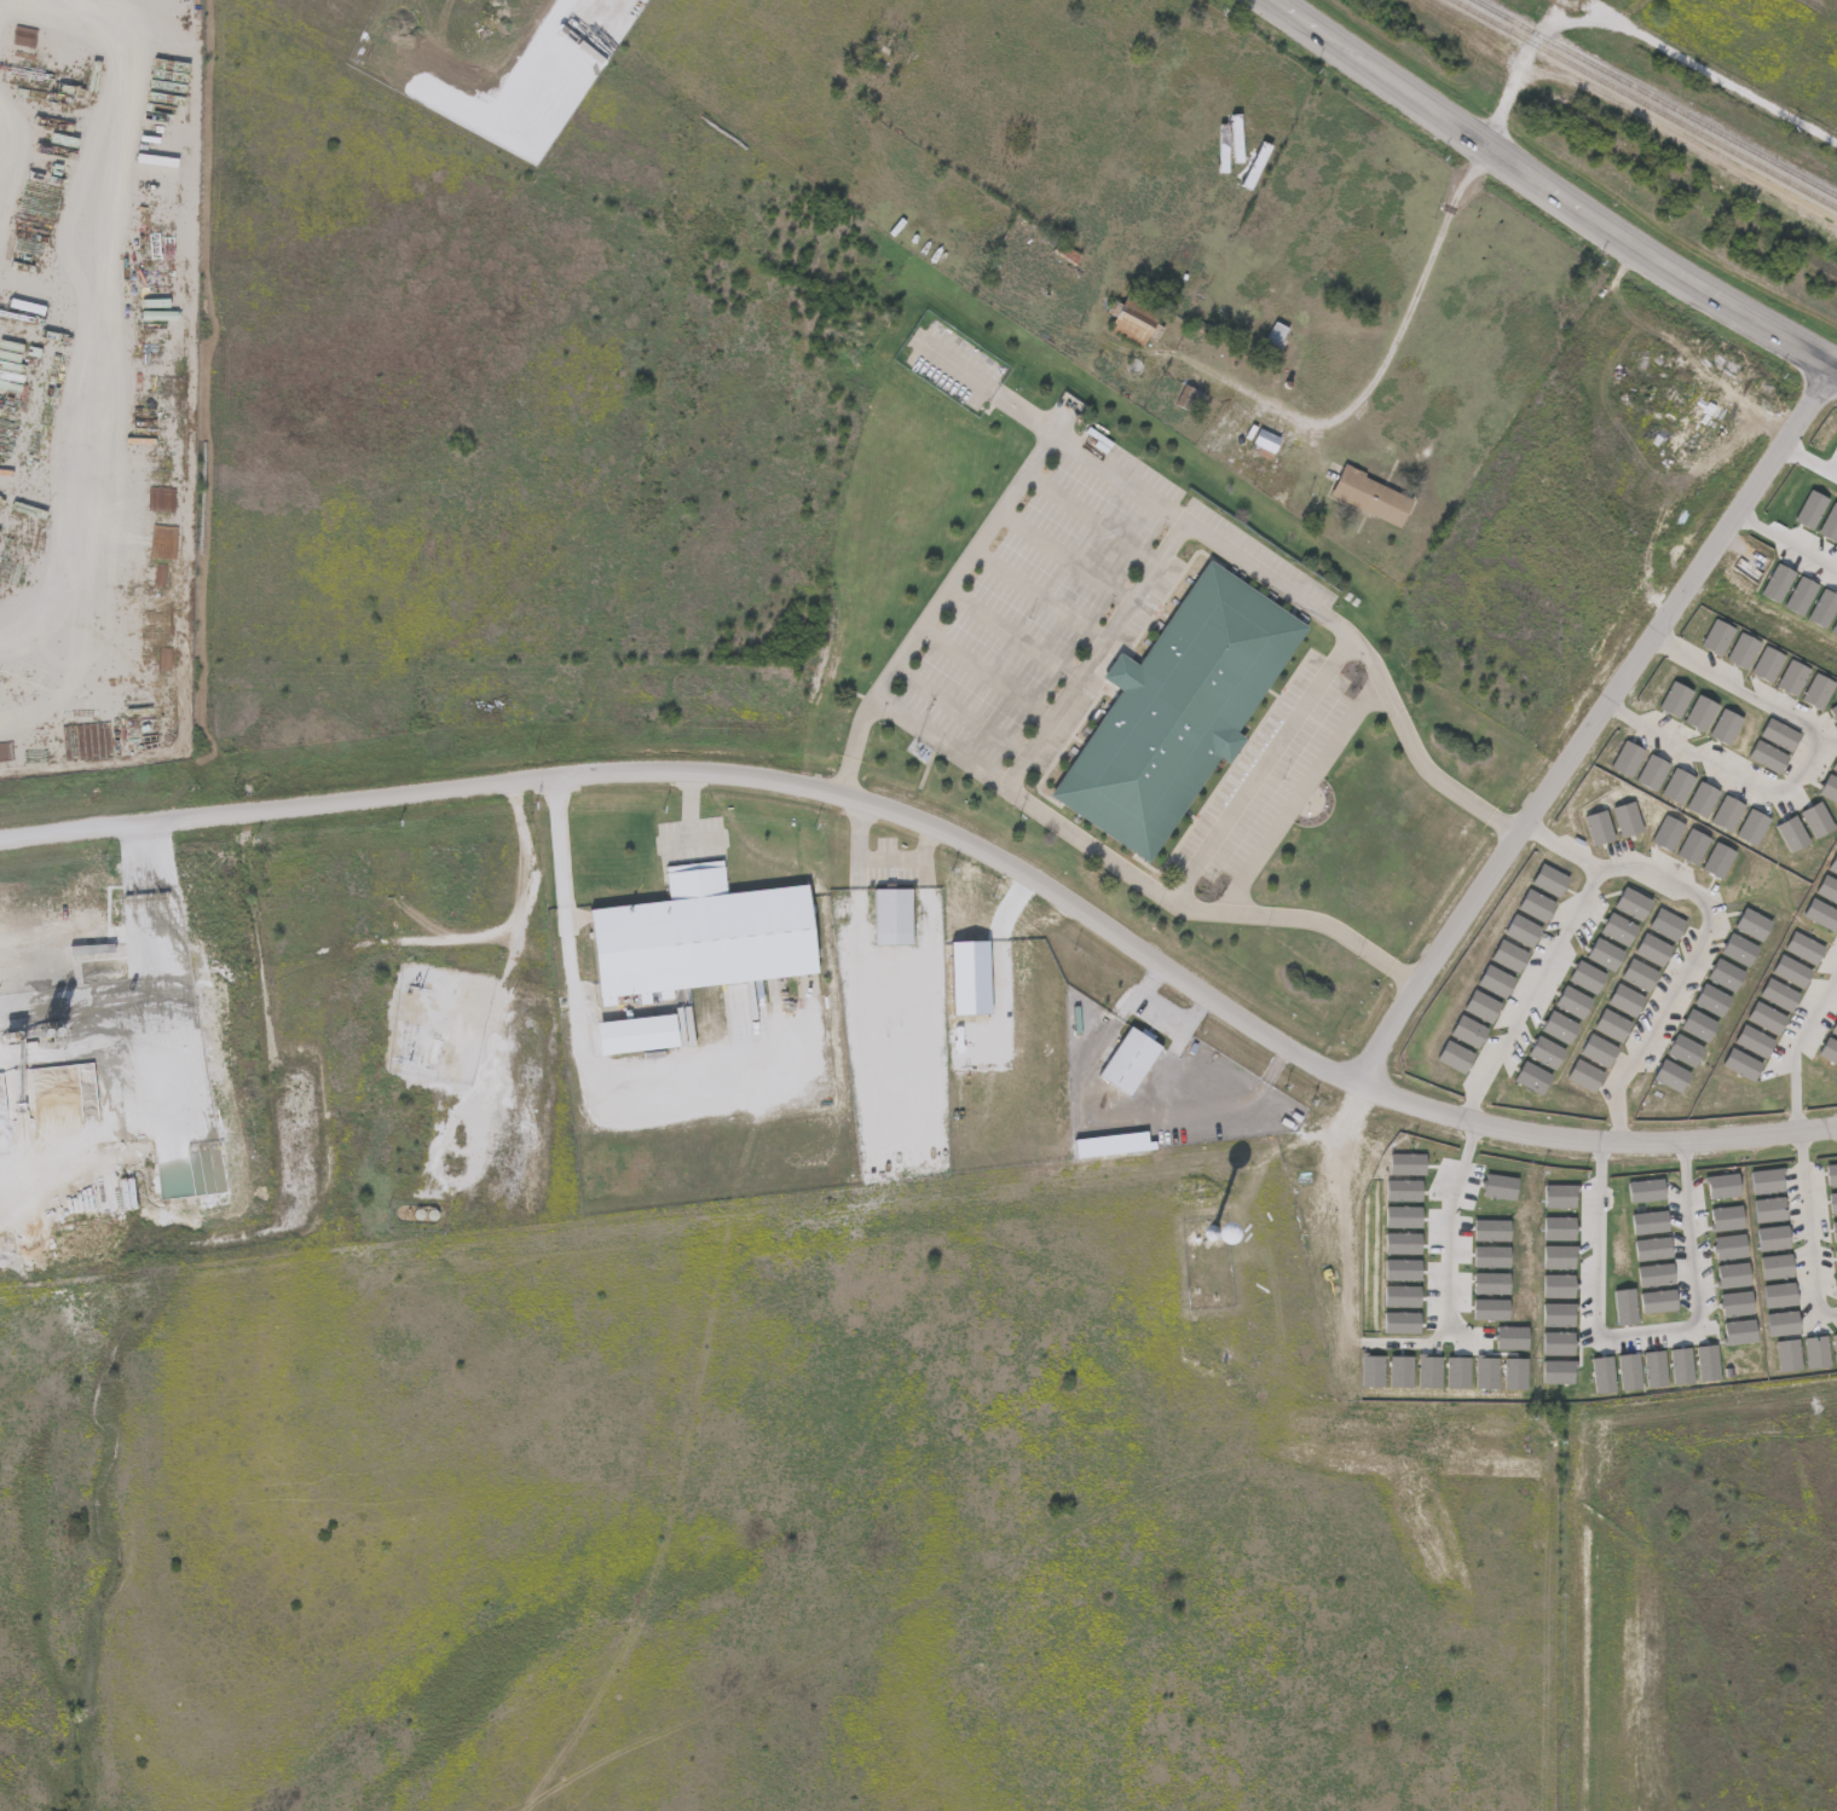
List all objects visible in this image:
road: (1680, 54)
railway: (1657, 97)
railway: (1646, 102)
road: (1552, 189)
building: (1134, 318)
road: (1398, 325)
building: (1275, 336)
road: (990, 378)
building: (1188, 398)
building: (1265, 442)
building: (1373, 496)
road: (1180, 510)
road: (1090, 514)
road: (1789, 544)
road: (1063, 554)
road: (1036, 592)
road: (1010, 631)
road: (1094, 648)
road: (983, 670)
building: (1179, 705)
road: (958, 707)
road: (1593, 725)
road: (1261, 760)
road: (1802, 766)
road: (1301, 788)
road: (689, 816)
road: (678, 832)
road: (952, 833)
road: (1090, 839)
road: (1565, 845)
road: (879, 850)
road: (1647, 870)
road: (576, 994)
road: (1165, 1001)
road: (1797, 1046)
road: (1338, 1132)
road: (1813, 1229)
road: (1456, 1232)
road: (1645, 1335)
road: (1426, 1341)

